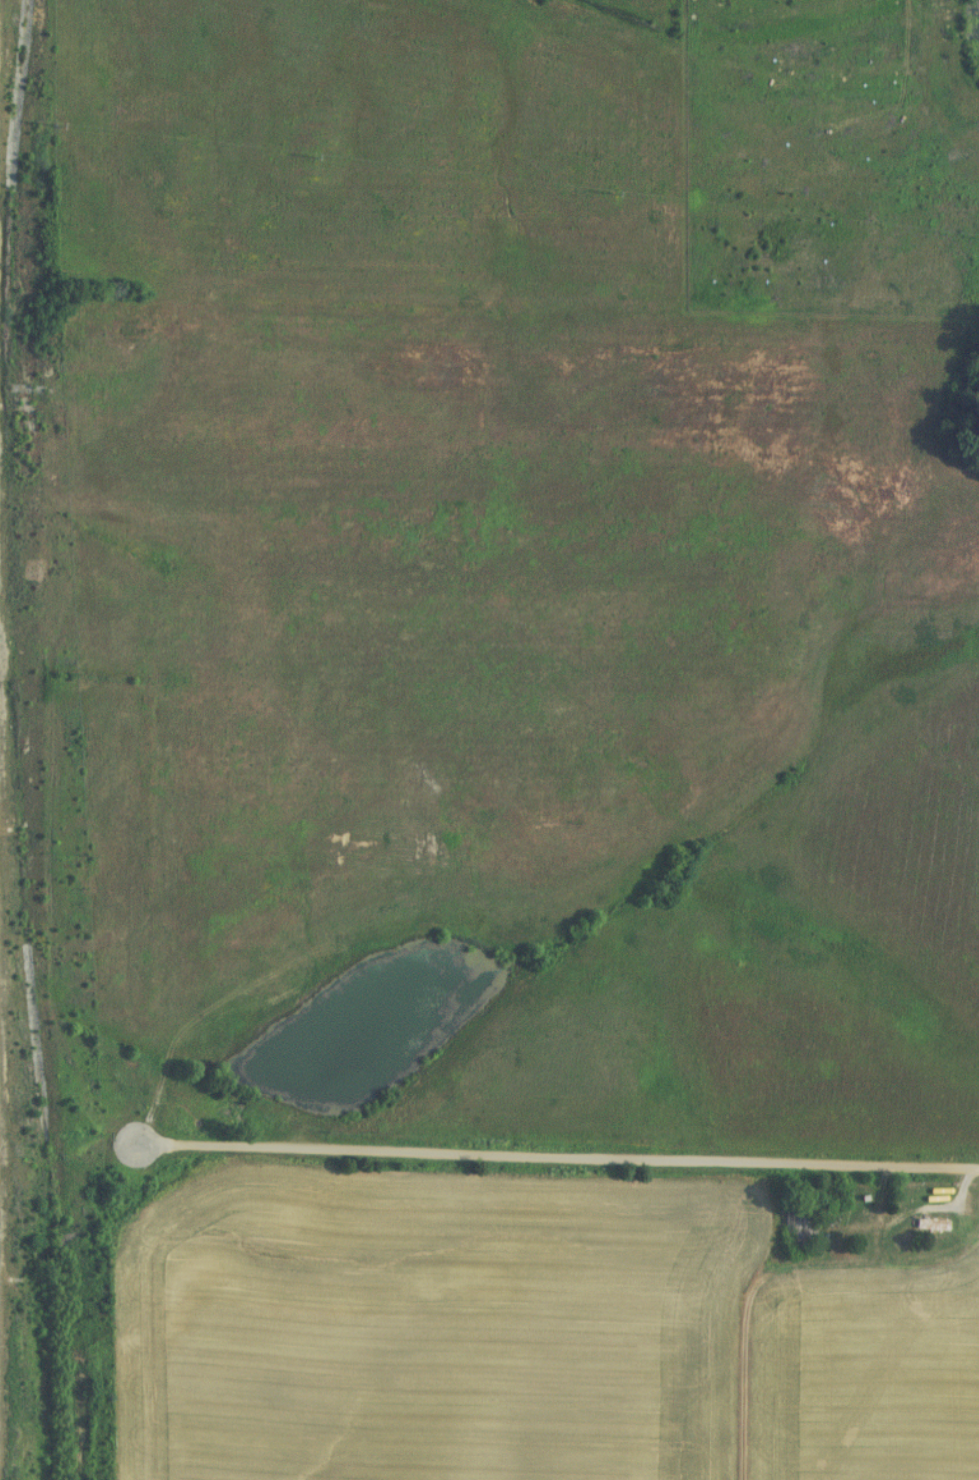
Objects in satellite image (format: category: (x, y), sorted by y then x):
road: (550, 1156)
building: (927, 1226)
building: (793, 1229)

